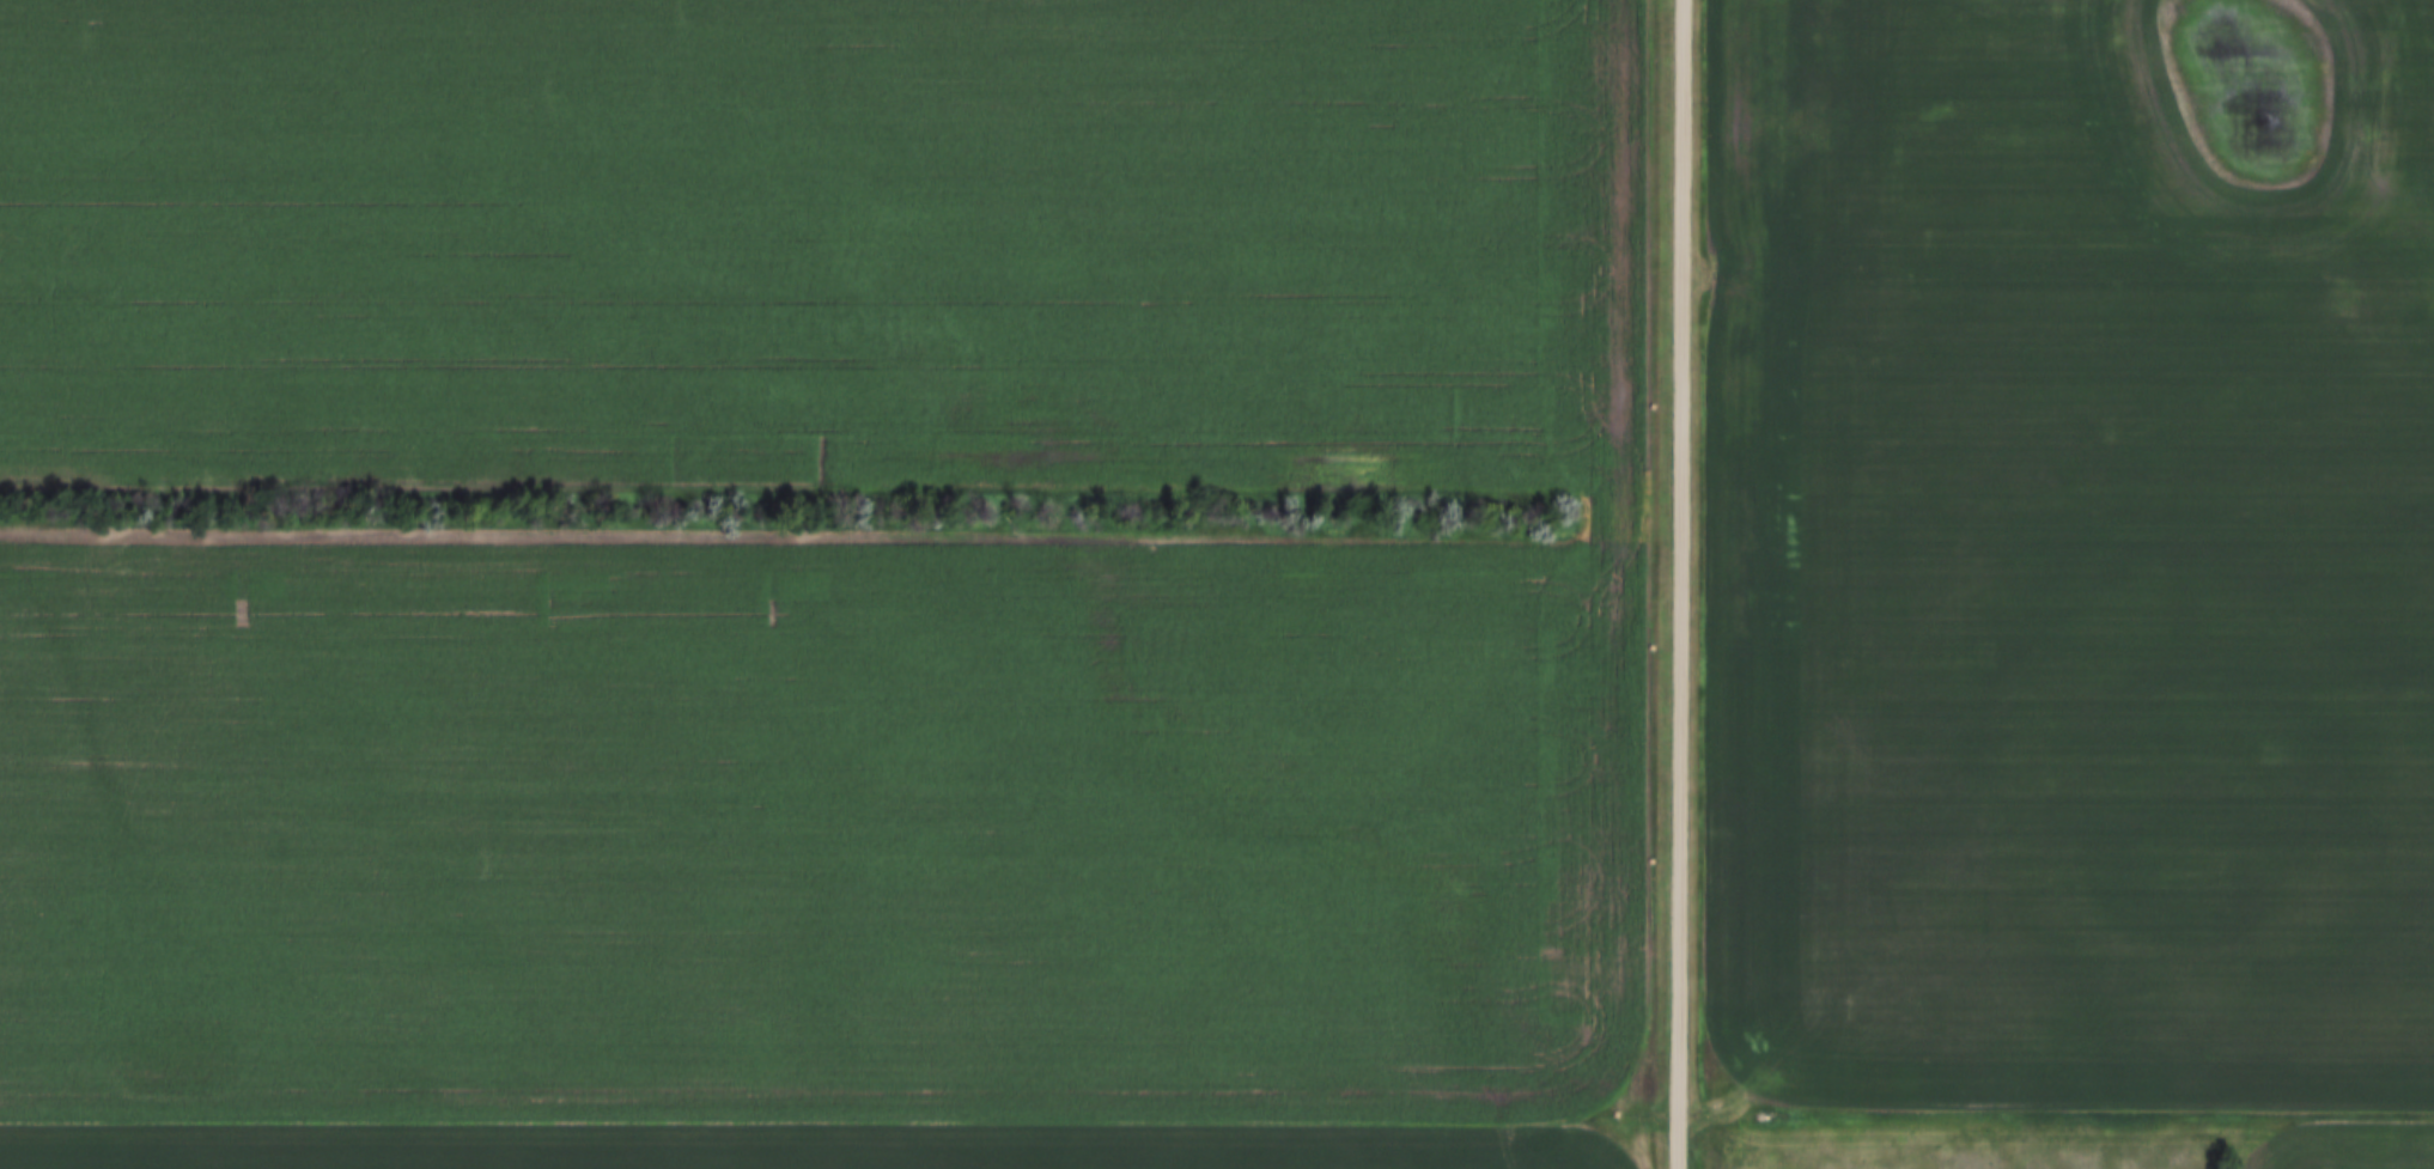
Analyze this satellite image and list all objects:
road: (1682, 584)

